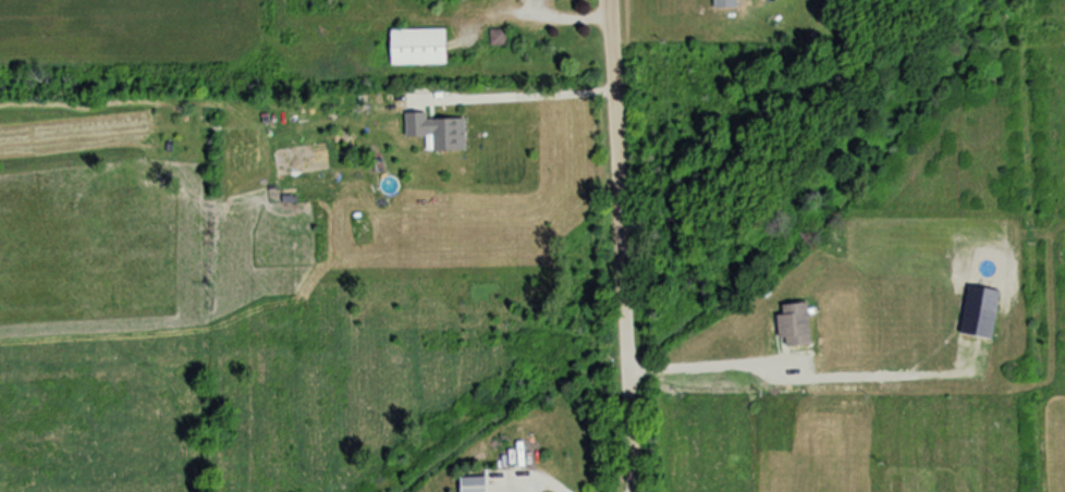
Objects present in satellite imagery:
building: (721, 3)
building: (414, 47)
road: (527, 91)
building: (437, 131)
road: (619, 245)
building: (976, 310)
building: (789, 324)
road: (698, 364)
road: (536, 475)
building: (468, 483)

